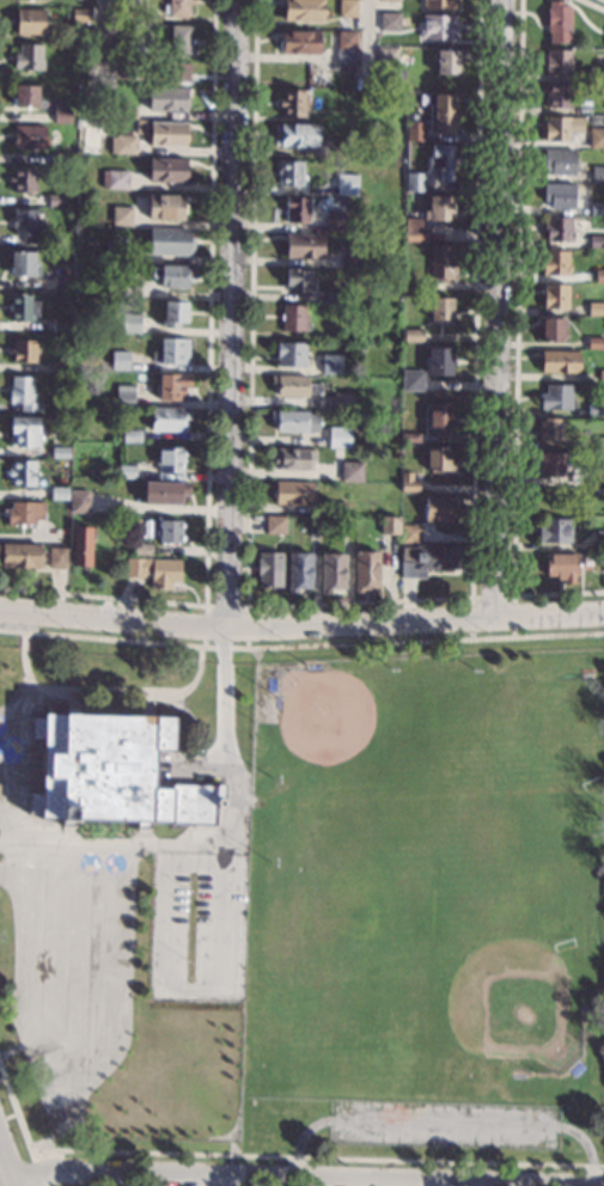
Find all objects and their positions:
building: (391, 0)
building: (121, 1)
building: (438, 4)
building: (179, 7)
building: (348, 8)
building: (303, 10)
road: (99, 12)
building: (81, 17)
building: (31, 22)
building: (389, 22)
building: (557, 22)
building: (438, 27)
building: (120, 35)
road: (366, 38)
building: (179, 39)
building: (603, 39)
building: (300, 42)
building: (346, 47)
building: (388, 56)
building: (28, 57)
building: (557, 61)
building: (447, 62)
building: (129, 68)
building: (176, 72)
building: (596, 74)
building: (319, 77)
building: (395, 77)
building: (557, 94)
building: (25, 96)
building: (167, 99)
building: (292, 103)
building: (127, 112)
building: (443, 112)
building: (61, 114)
building: (561, 128)
building: (415, 130)
building: (166, 133)
building: (295, 134)
building: (30, 137)
building: (596, 137)
building: (126, 145)
building: (346, 151)
building: (65, 158)
building: (441, 160)
building: (559, 163)
building: (166, 170)
building: (289, 173)
building: (597, 175)
building: (23, 179)
building: (117, 179)
building: (414, 183)
building: (346, 184)
building: (557, 195)
building: (56, 201)
building: (165, 207)
building: (439, 208)
building: (298, 209)
building: (597, 209)
building: (121, 216)
building: (336, 220)
building: (90, 221)
building: (28, 225)
building: (557, 230)
building: (66, 232)
building: (414, 234)
building: (170, 242)
building: (596, 242)
building: (304, 246)
building: (115, 251)
building: (350, 258)
building: (441, 262)
building: (555, 263)
building: (24, 264)
building: (171, 275)
building: (598, 275)
building: (298, 281)
building: (61, 282)
building: (378, 287)
building: (115, 288)
building: (555, 296)
building: (330, 298)
building: (22, 307)
road: (481, 308)
building: (596, 308)
building: (440, 310)
building: (173, 313)
road: (224, 313)
building: (294, 318)
building: (129, 323)
building: (61, 326)
building: (551, 329)
building: (413, 335)
building: (596, 343)
building: (23, 351)
building: (171, 351)
building: (289, 354)
building: (118, 360)
building: (440, 361)
building: (560, 362)
building: (331, 365)
building: (60, 367)
building: (600, 375)
building: (411, 380)
building: (289, 385)
building: (171, 386)
building: (23, 393)
building: (124, 396)
building: (556, 397)
building: (344, 402)
building: (594, 411)
building: (439, 416)
building: (169, 420)
building: (294, 421)
building: (550, 429)
building: (24, 432)
building: (130, 436)
building: (340, 438)
building: (410, 438)
building: (599, 442)
building: (60, 452)
building: (293, 458)
building: (438, 459)
building: (170, 460)
building: (554, 464)
building: (126, 471)
building: (102, 472)
building: (352, 472)
building: (22, 473)
building: (598, 475)
building: (408, 483)
building: (163, 493)
building: (59, 494)
building: (294, 494)
building: (79, 502)
building: (336, 508)
building: (438, 509)
building: (23, 513)
building: (313, 524)
building: (274, 525)
building: (389, 525)
building: (346, 526)
building: (555, 531)
building: (167, 532)
building: (409, 533)
building: (57, 538)
building: (599, 540)
building: (81, 546)
building: (141, 549)
building: (20, 555)
building: (57, 558)
building: (425, 560)
building: (562, 567)
building: (270, 569)
building: (154, 570)
building: (298, 571)
building: (365, 571)
building: (332, 573)
road: (301, 624)
road: (106, 690)
park: (332, 729)
park: (549, 740)
building: (114, 772)
road: (226, 833)
park: (514, 844)
park: (426, 904)
park: (367, 909)
road: (38, 919)
parking lot: (197, 925)
road: (190, 991)
park: (512, 1001)
park: (53, 1080)
park: (200, 1098)
park: (114, 1119)
parking lot: (445, 1124)
road: (258, 1178)
road: (1, 1182)

